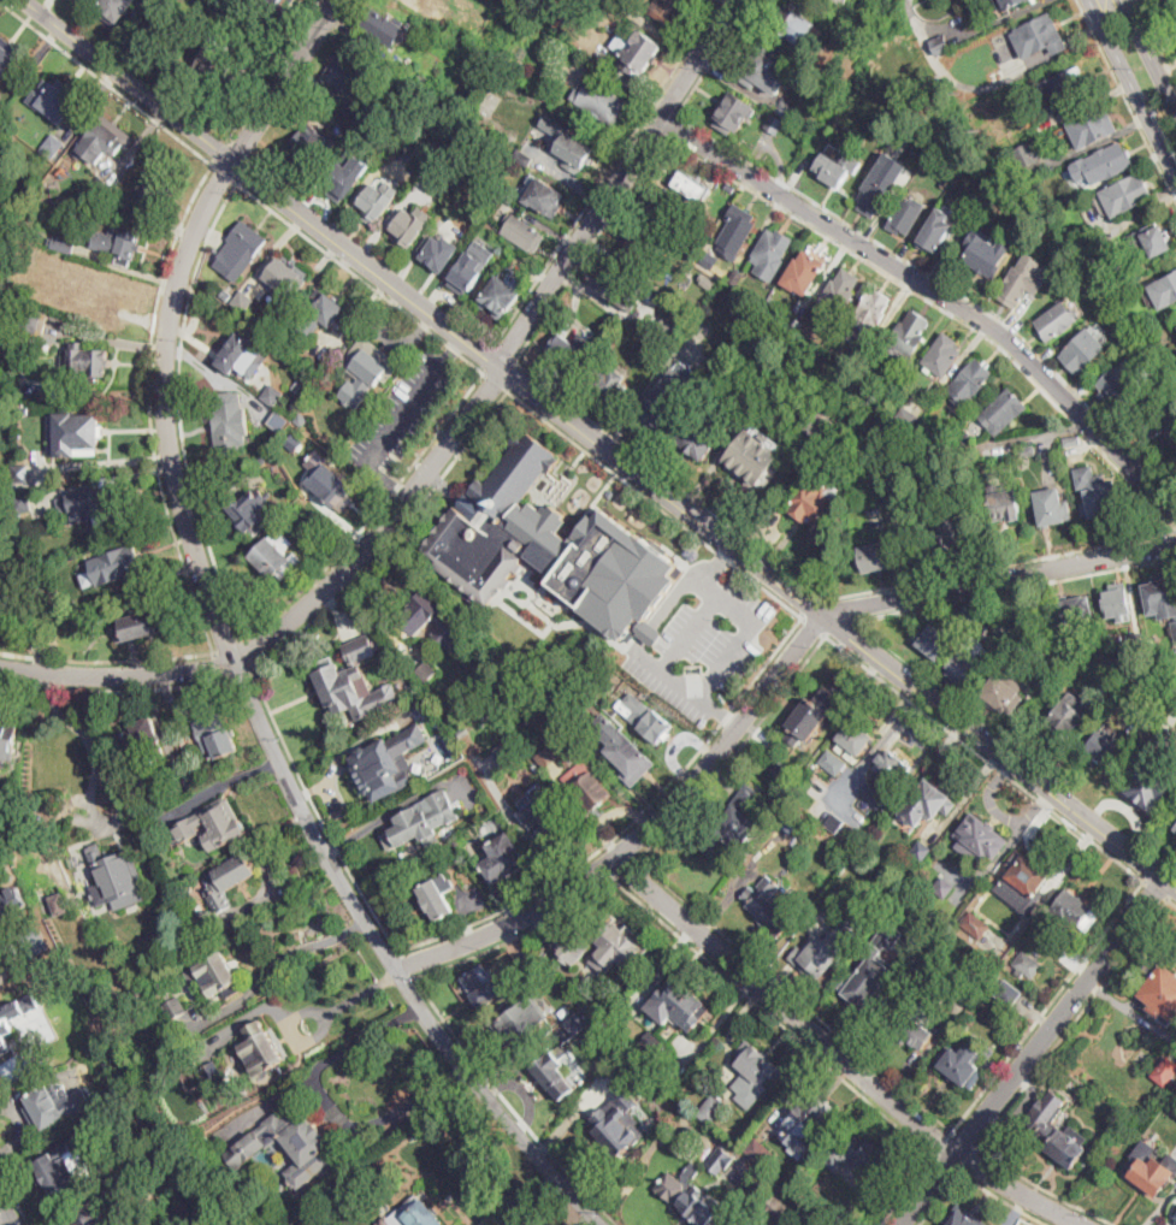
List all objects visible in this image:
building: (267, 0)
building: (844, 0)
building: (285, 2)
building: (1010, 2)
building: (622, 5)
building: (114, 10)
building: (669, 10)
building: (439, 19)
building: (1175, 19)
building: (266, 20)
building: (613, 24)
building: (793, 25)
building: (383, 26)
road: (969, 30)
building: (1175, 30)
building: (1039, 36)
road: (1156, 42)
building: (940, 46)
building: (522, 52)
building: (638, 52)
road: (1148, 54)
road: (715, 58)
building: (8, 60)
building: (218, 67)
building: (479, 67)
building: (766, 71)
building: (350, 73)
building: (998, 73)
building: (422, 77)
road: (129, 81)
road: (285, 81)
road: (106, 83)
road: (1133, 87)
building: (1063, 89)
building: (54, 99)
road: (1127, 101)
building: (603, 102)
building: (355, 107)
building: (544, 108)
building: (787, 108)
building: (733, 114)
road: (673, 125)
building: (772, 125)
building: (1042, 126)
building: (1093, 126)
building: (372, 130)
building: (104, 140)
building: (16, 144)
building: (53, 146)
building: (309, 146)
building: (574, 150)
building: (888, 152)
building: (1032, 152)
building: (522, 156)
building: (888, 162)
building: (1103, 162)
building: (837, 168)
building: (432, 173)
road: (225, 174)
building: (345, 178)
building: (946, 183)
road: (620, 184)
building: (731, 185)
building: (102, 188)
building: (692, 188)
road: (598, 190)
building: (877, 191)
building: (155, 194)
building: (1127, 195)
building: (546, 196)
building: (510, 199)
building: (374, 203)
building: (662, 213)
building: (908, 215)
building: (410, 225)
building: (737, 230)
building: (525, 233)
building: (936, 237)
building: (1150, 242)
building: (119, 243)
building: (61, 244)
building: (689, 244)
building: (242, 249)
building: (441, 249)
building: (640, 250)
building: (770, 253)
building: (987, 253)
building: (49, 260)
building: (709, 260)
building: (805, 270)
building: (467, 273)
building: (285, 277)
building: (735, 278)
building: (1022, 279)
building: (708, 282)
road: (945, 284)
building: (619, 285)
building: (840, 290)
building: (1164, 291)
road: (939, 292)
building: (226, 294)
building: (500, 296)
building: (91, 298)
building: (243, 301)
building: (23, 308)
road: (940, 308)
building: (5, 312)
building: (869, 314)
building: (324, 315)
building: (1057, 321)
building: (669, 325)
building: (909, 336)
road: (455, 349)
building: (566, 351)
building: (1085, 351)
building: (244, 354)
building: (944, 354)
building: (855, 356)
road: (490, 359)
building: (87, 361)
building: (1166, 361)
building: (325, 367)
building: (366, 371)
road: (512, 377)
road: (496, 383)
building: (970, 383)
building: (604, 384)
building: (299, 385)
building: (1115, 387)
road: (471, 393)
building: (273, 395)
road: (562, 397)
building: (882, 401)
building: (663, 404)
road: (150, 407)
road: (181, 409)
building: (1005, 409)
road: (406, 410)
building: (906, 416)
building: (301, 418)
building: (278, 420)
building: (1157, 421)
building: (820, 426)
building: (230, 427)
building: (83, 433)
building: (701, 434)
building: (964, 437)
building: (1072, 442)
building: (1028, 451)
building: (755, 455)
building: (261, 460)
building: (1009, 467)
building: (19, 468)
road: (388, 478)
building: (336, 491)
building: (908, 497)
building: (812, 501)
building: (1104, 501)
building: (22, 504)
road: (655, 504)
building: (1004, 504)
building: (94, 505)
building: (1053, 508)
building: (249, 509)
building: (291, 522)
road: (705, 525)
building: (516, 528)
building: (951, 531)
road: (392, 543)
building: (276, 556)
building: (876, 556)
road: (1000, 566)
building: (122, 568)
road: (714, 570)
road: (997, 578)
road: (1015, 586)
building: (25, 592)
road: (675, 593)
building: (0, 594)
road: (720, 596)
building: (1162, 597)
building: (1117, 602)
road: (814, 606)
road: (840, 606)
building: (1076, 609)
building: (973, 610)
road: (300, 614)
building: (419, 614)
road: (838, 625)
building: (138, 626)
road: (812, 626)
building: (935, 639)
building: (1065, 643)
building: (1135, 643)
road: (230, 645)
road: (247, 653)
road: (108, 662)
road: (224, 665)
building: (967, 669)
building: (427, 670)
road: (241, 675)
building: (1105, 675)
building: (406, 685)
building: (338, 687)
road: (114, 691)
building: (1005, 691)
road: (720, 711)
building: (811, 715)
building: (646, 716)
building: (1071, 716)
building: (581, 723)
building: (119, 727)
road: (265, 732)
building: (7, 735)
building: (215, 735)
building: (856, 738)
building: (1170, 738)
building: (141, 742)
road: (882, 744)
building: (1104, 750)
building: (506, 752)
road: (738, 752)
building: (548, 754)
building: (630, 756)
road: (983, 758)
building: (833, 762)
building: (386, 763)
building: (893, 767)
building: (782, 769)
building: (474, 775)
building: (37, 785)
road: (94, 785)
building: (1148, 785)
building: (586, 786)
building: (875, 795)
building: (752, 799)
building: (927, 805)
road: (319, 812)
building: (41, 815)
building: (544, 815)
building: (788, 822)
building: (1172, 822)
building: (732, 823)
building: (213, 824)
road: (632, 824)
building: (839, 824)
building: (407, 828)
road: (643, 834)
building: (980, 840)
building: (459, 844)
building: (921, 850)
building: (503, 858)
road: (625, 868)
building: (1027, 874)
building: (117, 878)
building: (227, 881)
road: (602, 886)
building: (942, 887)
road: (1156, 890)
building: (438, 896)
building: (14, 898)
road: (1172, 903)
building: (59, 904)
building: (823, 904)
building: (769, 907)
building: (1076, 910)
building: (816, 921)
building: (975, 924)
building: (897, 935)
building: (34, 942)
building: (601, 943)
building: (826, 952)
road: (276, 961)
building: (522, 961)
building: (1029, 963)
road: (404, 965)
building: (217, 975)
building: (976, 978)
building: (93, 983)
building: (865, 983)
building: (492, 986)
building: (1160, 990)
building: (1007, 993)
road: (794, 995)
building: (680, 1004)
road: (1048, 1006)
building: (175, 1007)
building: (566, 1011)
building: (13, 1018)
building: (519, 1020)
building: (575, 1024)
road: (1074, 1024)
building: (915, 1025)
road: (325, 1026)
building: (130, 1035)
building: (651, 1040)
building: (681, 1043)
building: (261, 1049)
building: (637, 1052)
road: (1033, 1053)
road: (838, 1055)
building: (963, 1064)
building: (650, 1065)
building: (756, 1069)
building: (1165, 1070)
building: (214, 1075)
building: (554, 1075)
road: (331, 1103)
building: (58, 1105)
building: (711, 1109)
building: (810, 1113)
building: (616, 1124)
road: (965, 1141)
road: (944, 1142)
building: (1062, 1144)
building: (290, 1146)
building: (760, 1152)
building: (863, 1158)
building: (720, 1159)
road: (969, 1160)
road: (947, 1162)
building: (65, 1168)
building: (1150, 1174)
road: (1045, 1189)
road: (14, 1199)
road: (940, 1199)
road: (1003, 1199)
road: (543, 1205)
building: (776, 1206)
building: (699, 1207)
building: (420, 1212)
building: (88, 1214)
building: (1175, 1214)
building: (1175, 1215)
building: (963, 1217)
road: (5, 1218)
road: (580, 1218)
building: (766, 1224)

